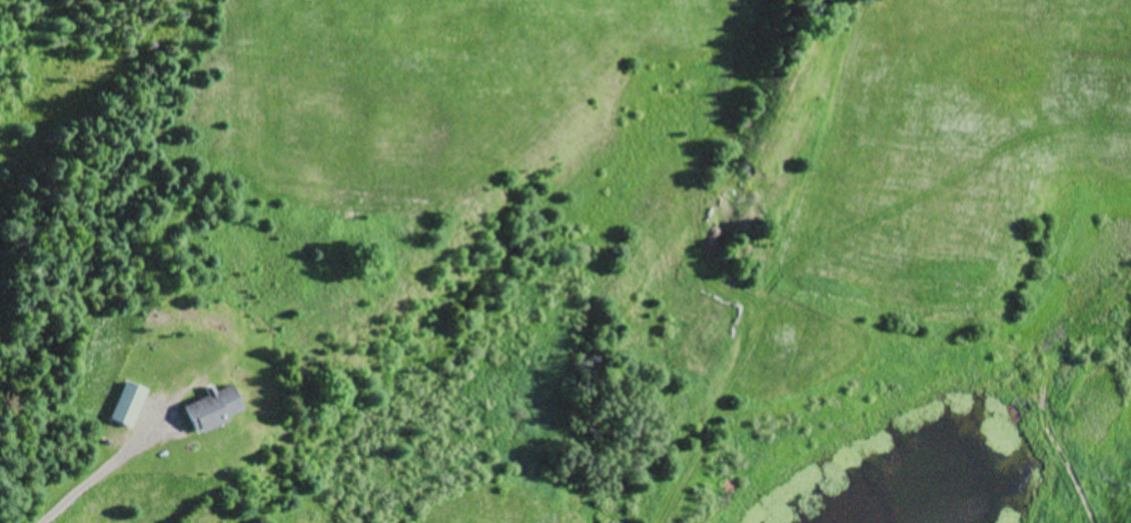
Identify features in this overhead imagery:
building: (129, 402)
building: (214, 406)

